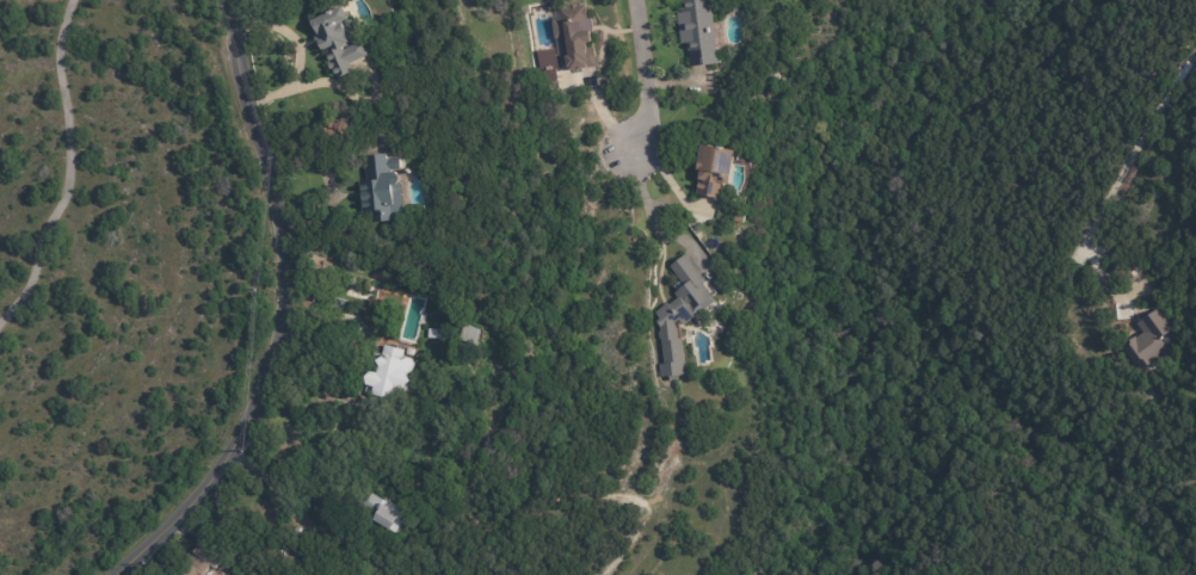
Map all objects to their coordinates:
building: (734, 7)
building: (696, 31)
building: (579, 38)
building: (335, 39)
road: (296, 55)
road: (641, 76)
building: (713, 167)
building: (384, 188)
road: (647, 209)
building: (1134, 272)
road: (277, 311)
building: (680, 313)
building: (460, 317)
building: (437, 334)
building: (474, 335)
building: (1145, 342)
building: (392, 378)
road: (303, 517)
building: (396, 517)
building: (201, 559)

